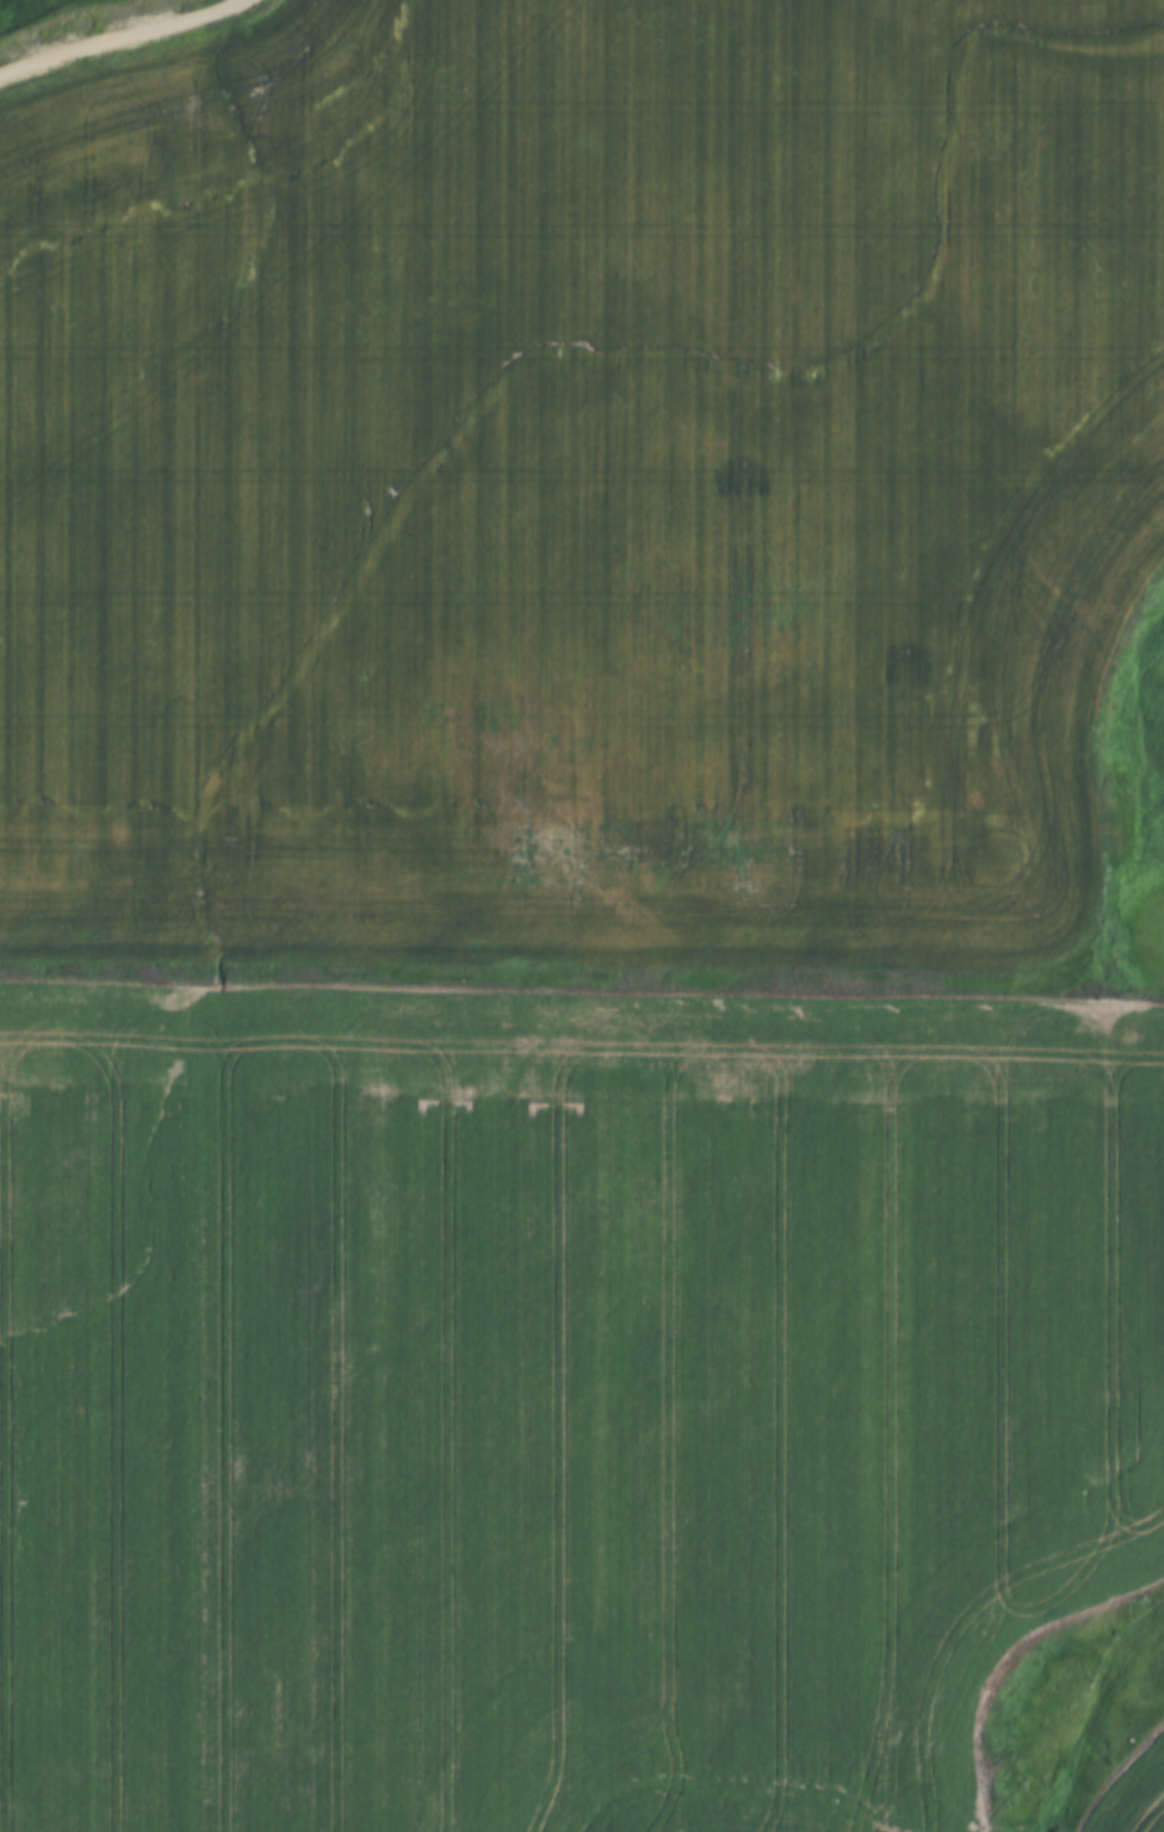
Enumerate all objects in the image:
road: (111, 31)

